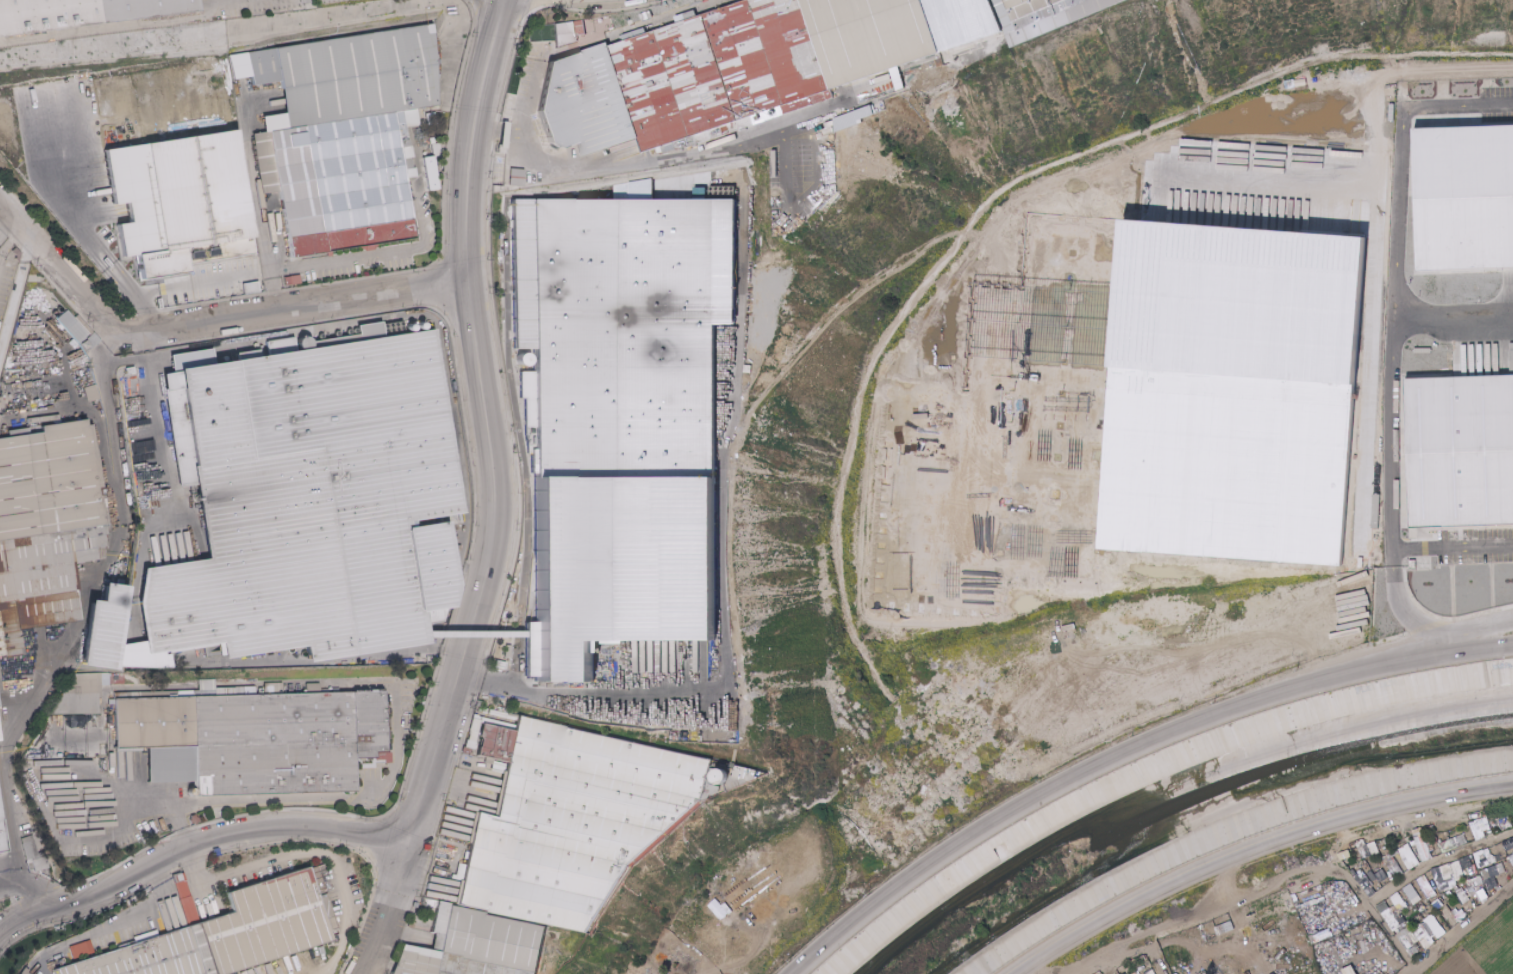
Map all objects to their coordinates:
crop: (1483, 949)

